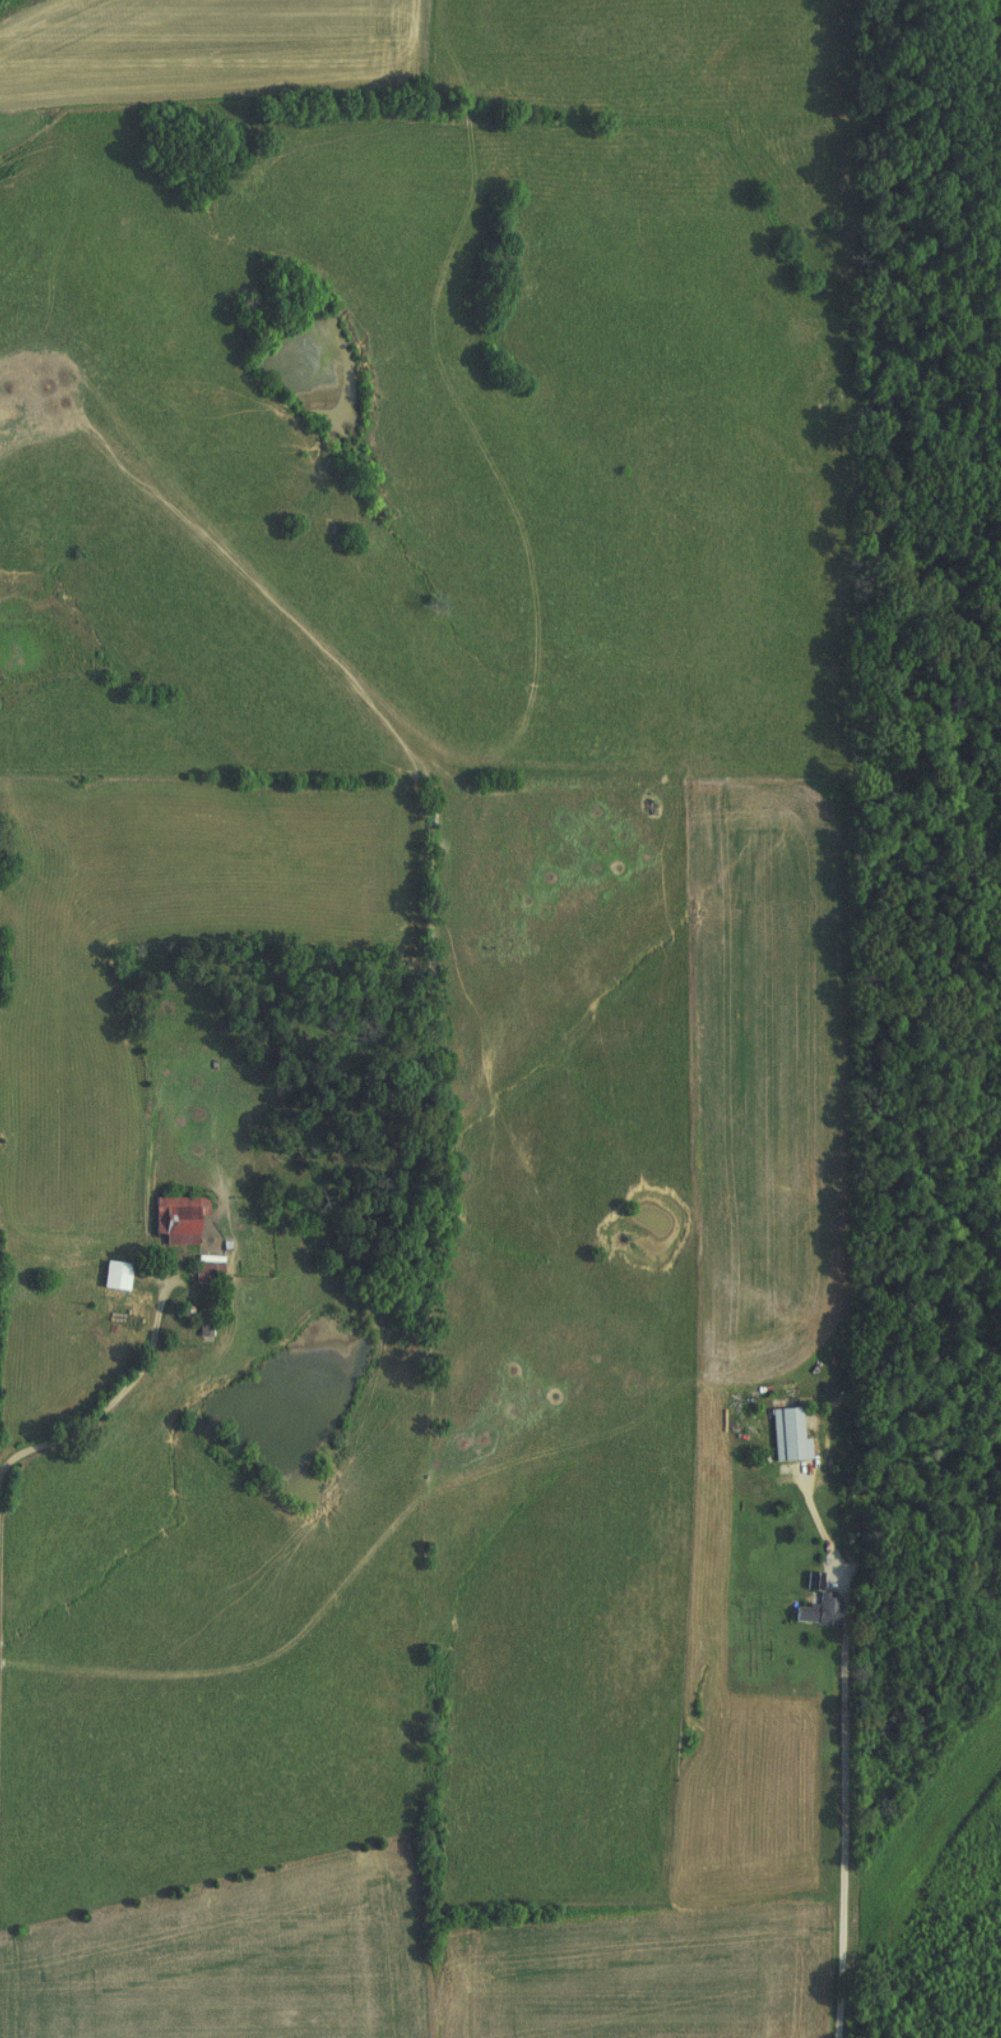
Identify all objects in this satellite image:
building: (174, 1219)
building: (200, 1274)
building: (112, 1276)
road: (117, 1397)
building: (785, 1437)
building: (810, 1581)
building: (816, 1613)
road: (852, 1839)

